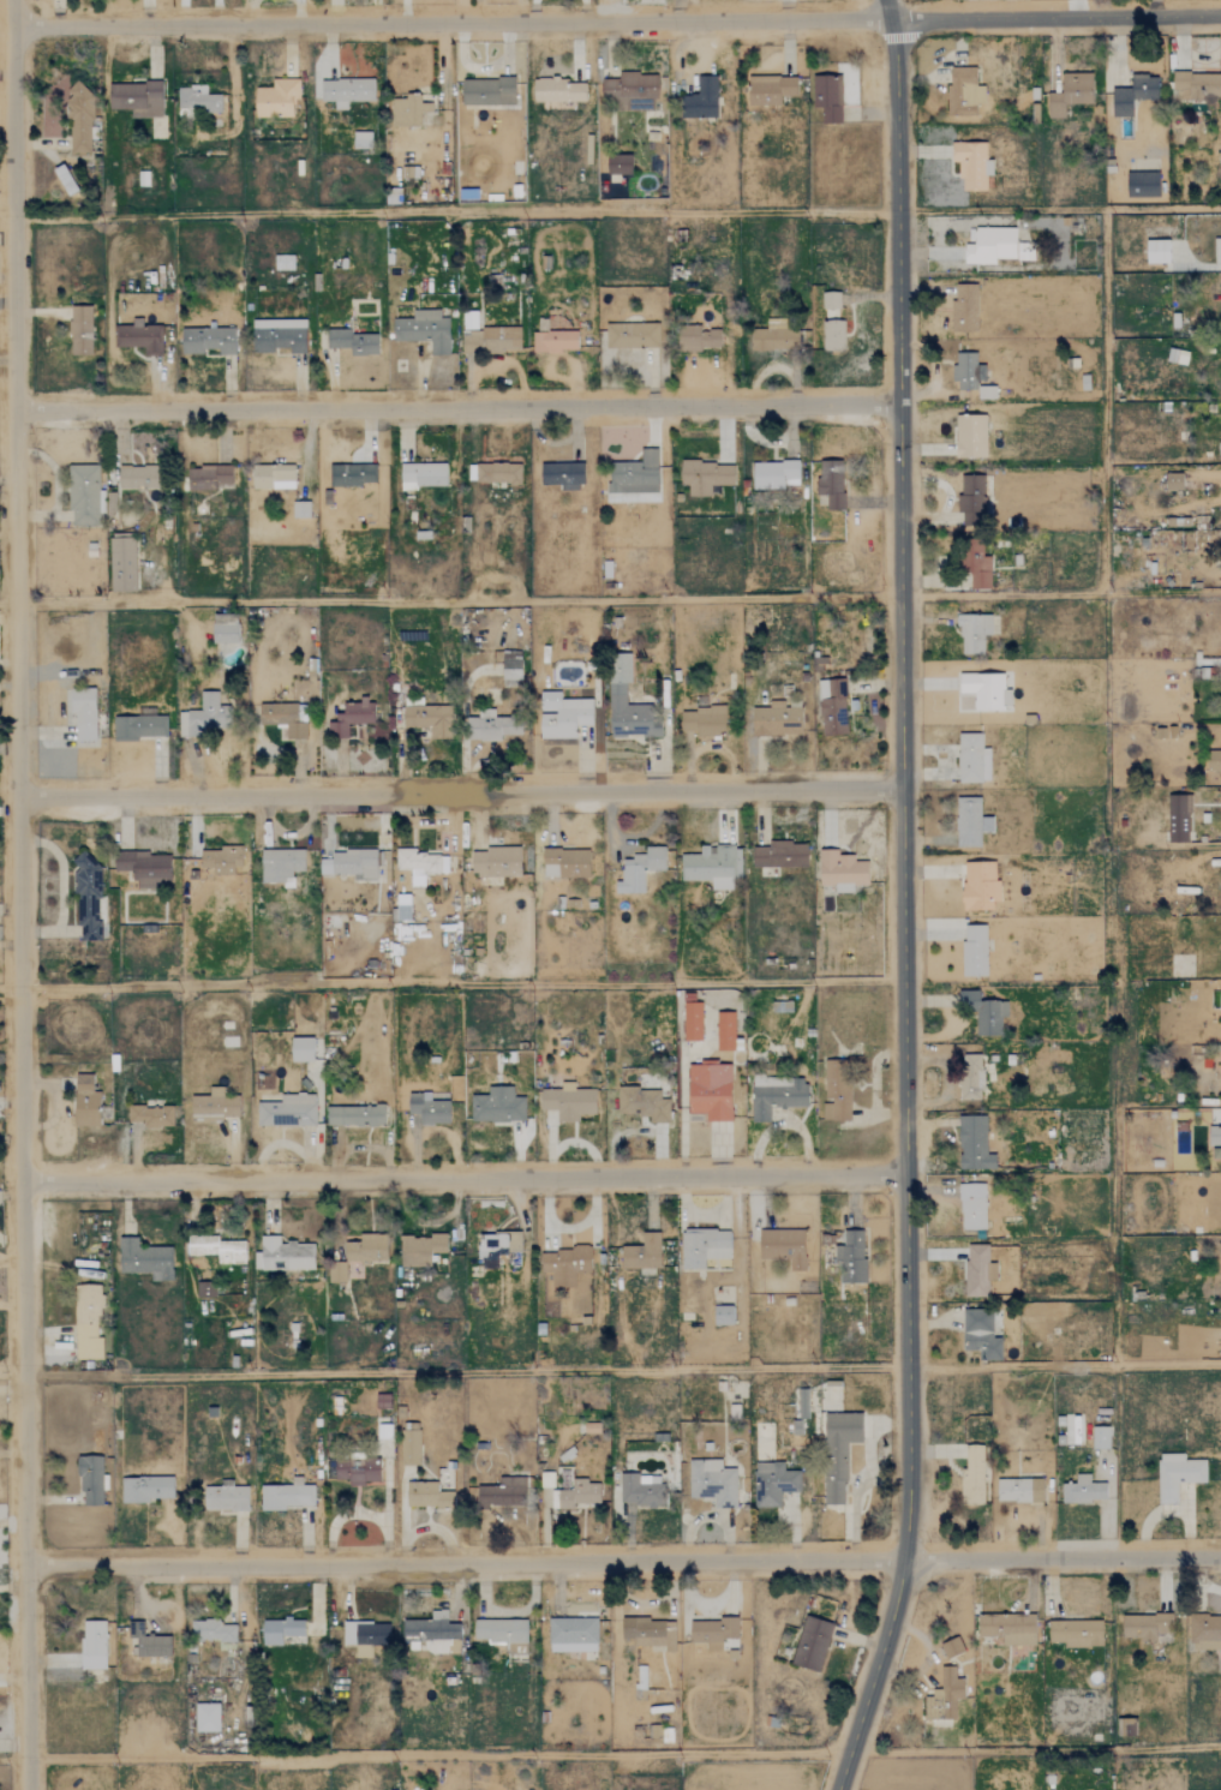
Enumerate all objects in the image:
road: (888, 10)
road: (1055, 18)
road: (451, 20)
building: (1197, 85)
building: (558, 90)
building: (770, 90)
building: (346, 91)
building: (632, 91)
building: (487, 92)
building: (963, 92)
building: (1070, 94)
building: (1133, 95)
building: (137, 97)
building: (827, 97)
building: (196, 100)
building: (277, 100)
building: (701, 100)
building: (407, 110)
building: (79, 119)
building: (361, 139)
building: (618, 164)
building: (971, 164)
building: (1142, 185)
road: (456, 212)
building: (1157, 251)
building: (1217, 251)
building: (831, 300)
building: (964, 309)
building: (79, 330)
building: (424, 330)
building: (280, 336)
building: (632, 336)
building: (833, 336)
building: (139, 337)
building: (487, 337)
building: (698, 339)
building: (207, 341)
building: (553, 341)
building: (774, 341)
building: (353, 342)
building: (1178, 357)
building: (969, 375)
road: (457, 406)
building: (970, 436)
building: (497, 473)
building: (774, 474)
building: (351, 475)
building: (423, 475)
building: (562, 475)
building: (634, 475)
building: (273, 477)
building: (705, 477)
building: (137, 478)
building: (208, 478)
building: (1173, 481)
building: (831, 484)
building: (84, 495)
building: (971, 501)
building: (300, 510)
building: (121, 565)
building: (978, 573)
building: (972, 633)
building: (223, 634)
building: (510, 669)
building: (984, 690)
building: (616, 695)
building: (832, 707)
building: (82, 713)
building: (204, 717)
building: (563, 717)
building: (352, 718)
building: (282, 719)
building: (427, 719)
building: (776, 720)
building: (704, 722)
building: (139, 728)
building: (490, 728)
building: (972, 759)
building: (1214, 764)
road: (459, 790)
building: (1178, 819)
building: (968, 822)
building: (779, 856)
building: (221, 860)
building: (355, 863)
building: (496, 863)
building: (564, 863)
building: (417, 864)
building: (280, 867)
building: (713, 867)
building: (144, 869)
building: (639, 870)
building: (840, 872)
building: (980, 886)
road: (18, 894)
building: (86, 896)
road: (903, 910)
building: (974, 951)
building: (983, 1013)
building: (692, 1022)
building: (725, 1031)
building: (301, 1049)
building: (970, 1078)
building: (836, 1090)
building: (708, 1091)
building: (776, 1097)
building: (85, 1102)
building: (568, 1102)
building: (642, 1104)
building: (214, 1106)
building: (497, 1107)
building: (427, 1109)
building: (287, 1112)
building: (151, 1116)
building: (354, 1116)
building: (1214, 1137)
building: (972, 1144)
road: (465, 1177)
building: (971, 1207)
building: (783, 1246)
building: (496, 1247)
building: (702, 1247)
building: (216, 1249)
building: (420, 1249)
building: (641, 1252)
building: (354, 1253)
building: (283, 1255)
building: (851, 1258)
building: (144, 1259)
building: (563, 1264)
building: (977, 1270)
building: (205, 1289)
building: (723, 1315)
building: (86, 1322)
building: (980, 1335)
road: (1063, 1365)
building: (382, 1400)
building: (802, 1403)
building: (1071, 1430)
building: (1100, 1437)
building: (409, 1443)
building: (838, 1453)
building: (357, 1469)
building: (972, 1474)
building: (1177, 1475)
building: (91, 1481)
building: (712, 1483)
building: (773, 1484)
building: (145, 1489)
building: (640, 1490)
building: (1018, 1490)
building: (1083, 1490)
building: (502, 1492)
building: (577, 1493)
building: (426, 1495)
building: (286, 1496)
building: (225, 1498)
road: (624, 1556)
building: (1145, 1627)
building: (1007, 1628)
building: (211, 1632)
building: (282, 1632)
building: (650, 1633)
building: (712, 1633)
building: (1075, 1633)
building: (1204, 1633)
building: (433, 1634)
building: (503, 1634)
building: (571, 1635)
building: (365, 1636)
building: (149, 1642)
building: (812, 1644)
building: (92, 1645)
building: (951, 1647)
building: (640, 1677)
building: (944, 1696)
building: (205, 1718)
road: (439, 1754)

